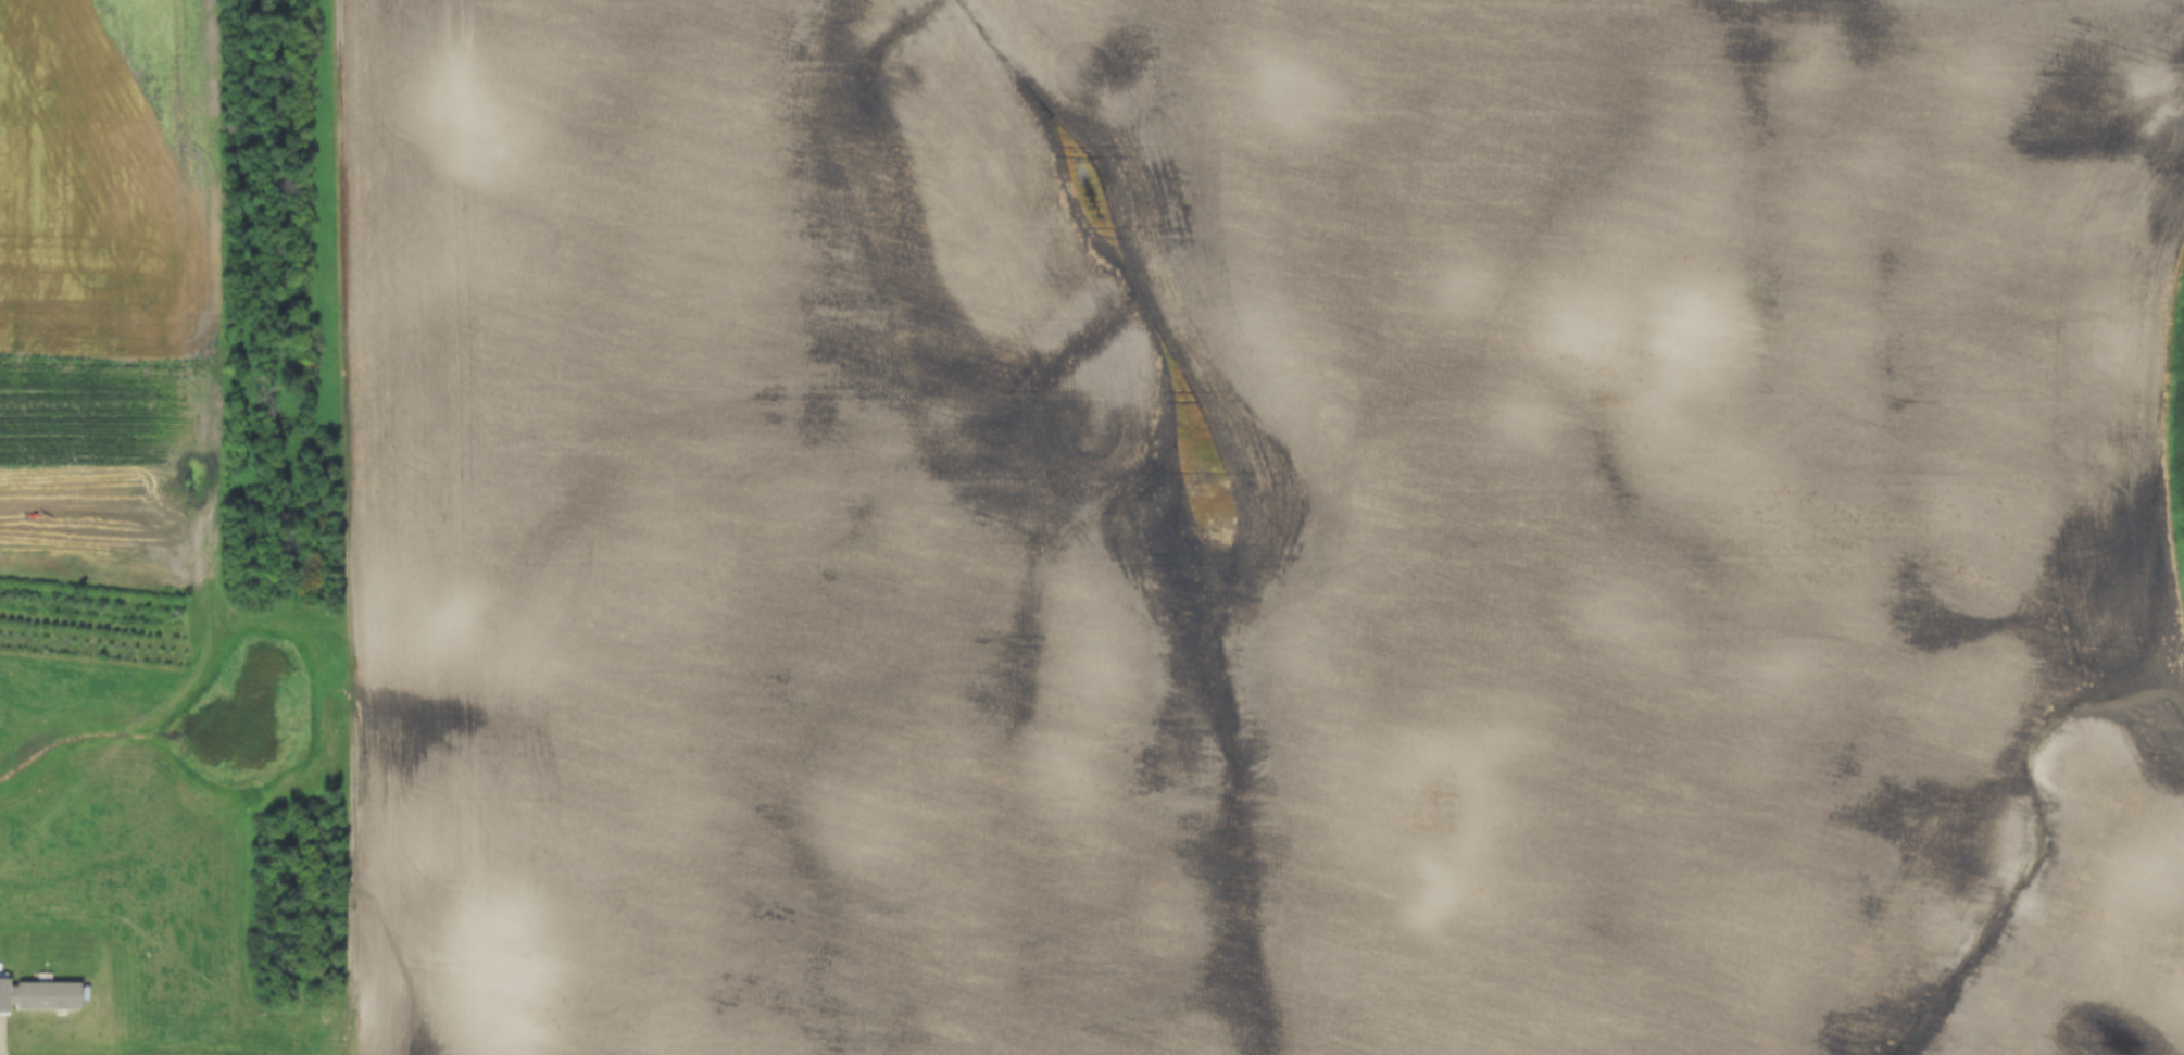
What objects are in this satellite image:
road: (350, 527)

